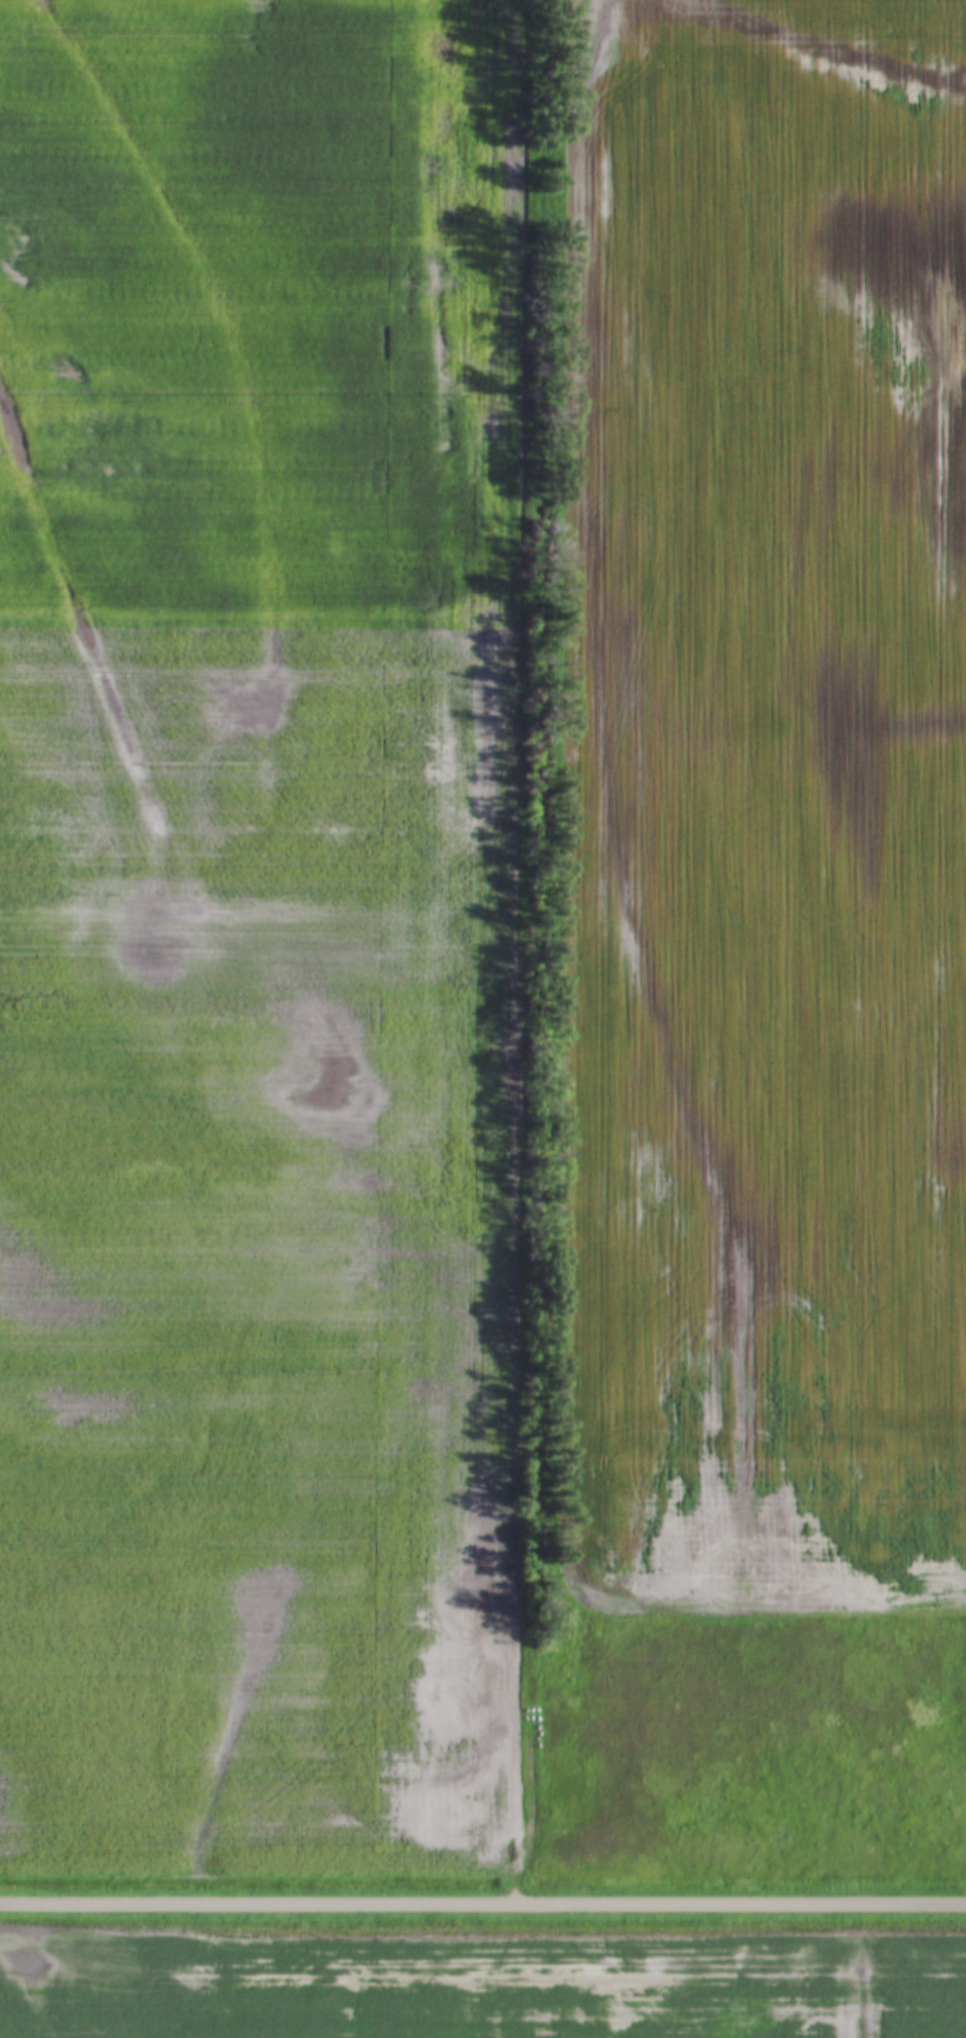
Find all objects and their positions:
road: (482, 1907)

